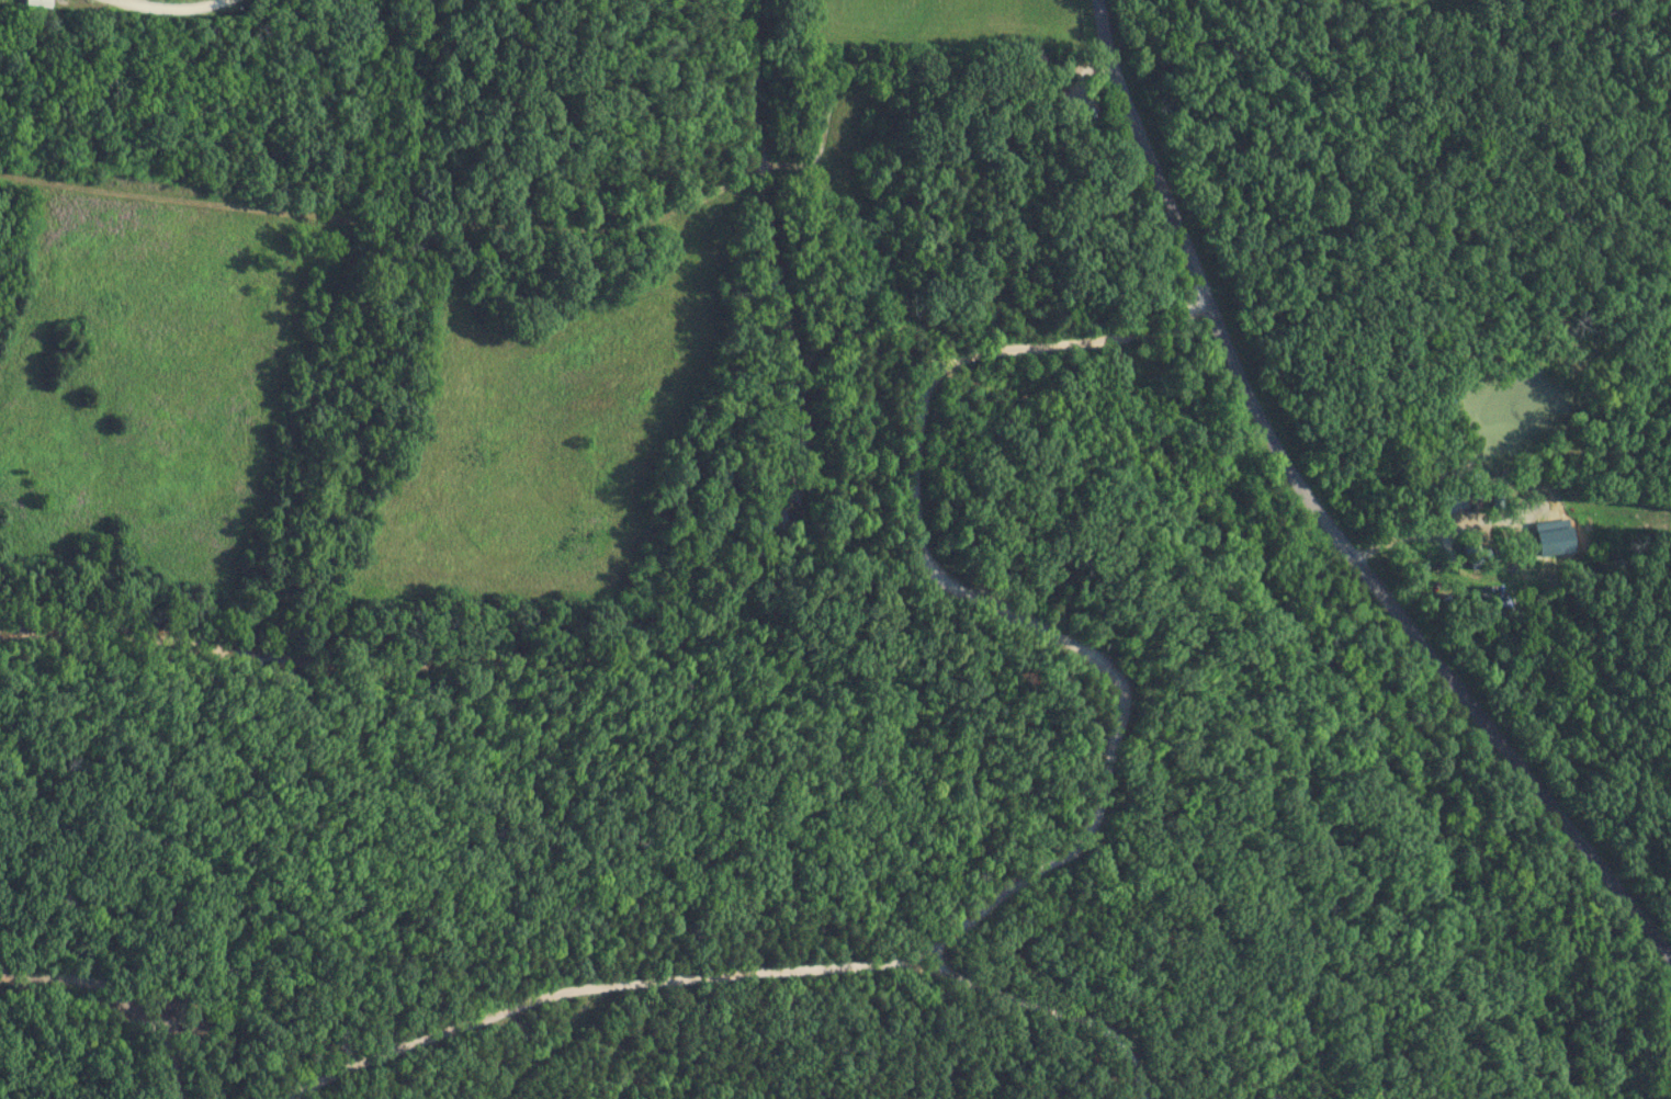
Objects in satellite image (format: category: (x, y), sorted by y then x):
road: (125, 1)
road: (167, 5)
road: (918, 67)
road: (397, 220)
road: (1324, 514)
building: (1535, 526)
road: (1092, 832)
road: (1049, 1008)
road: (551, 1046)

